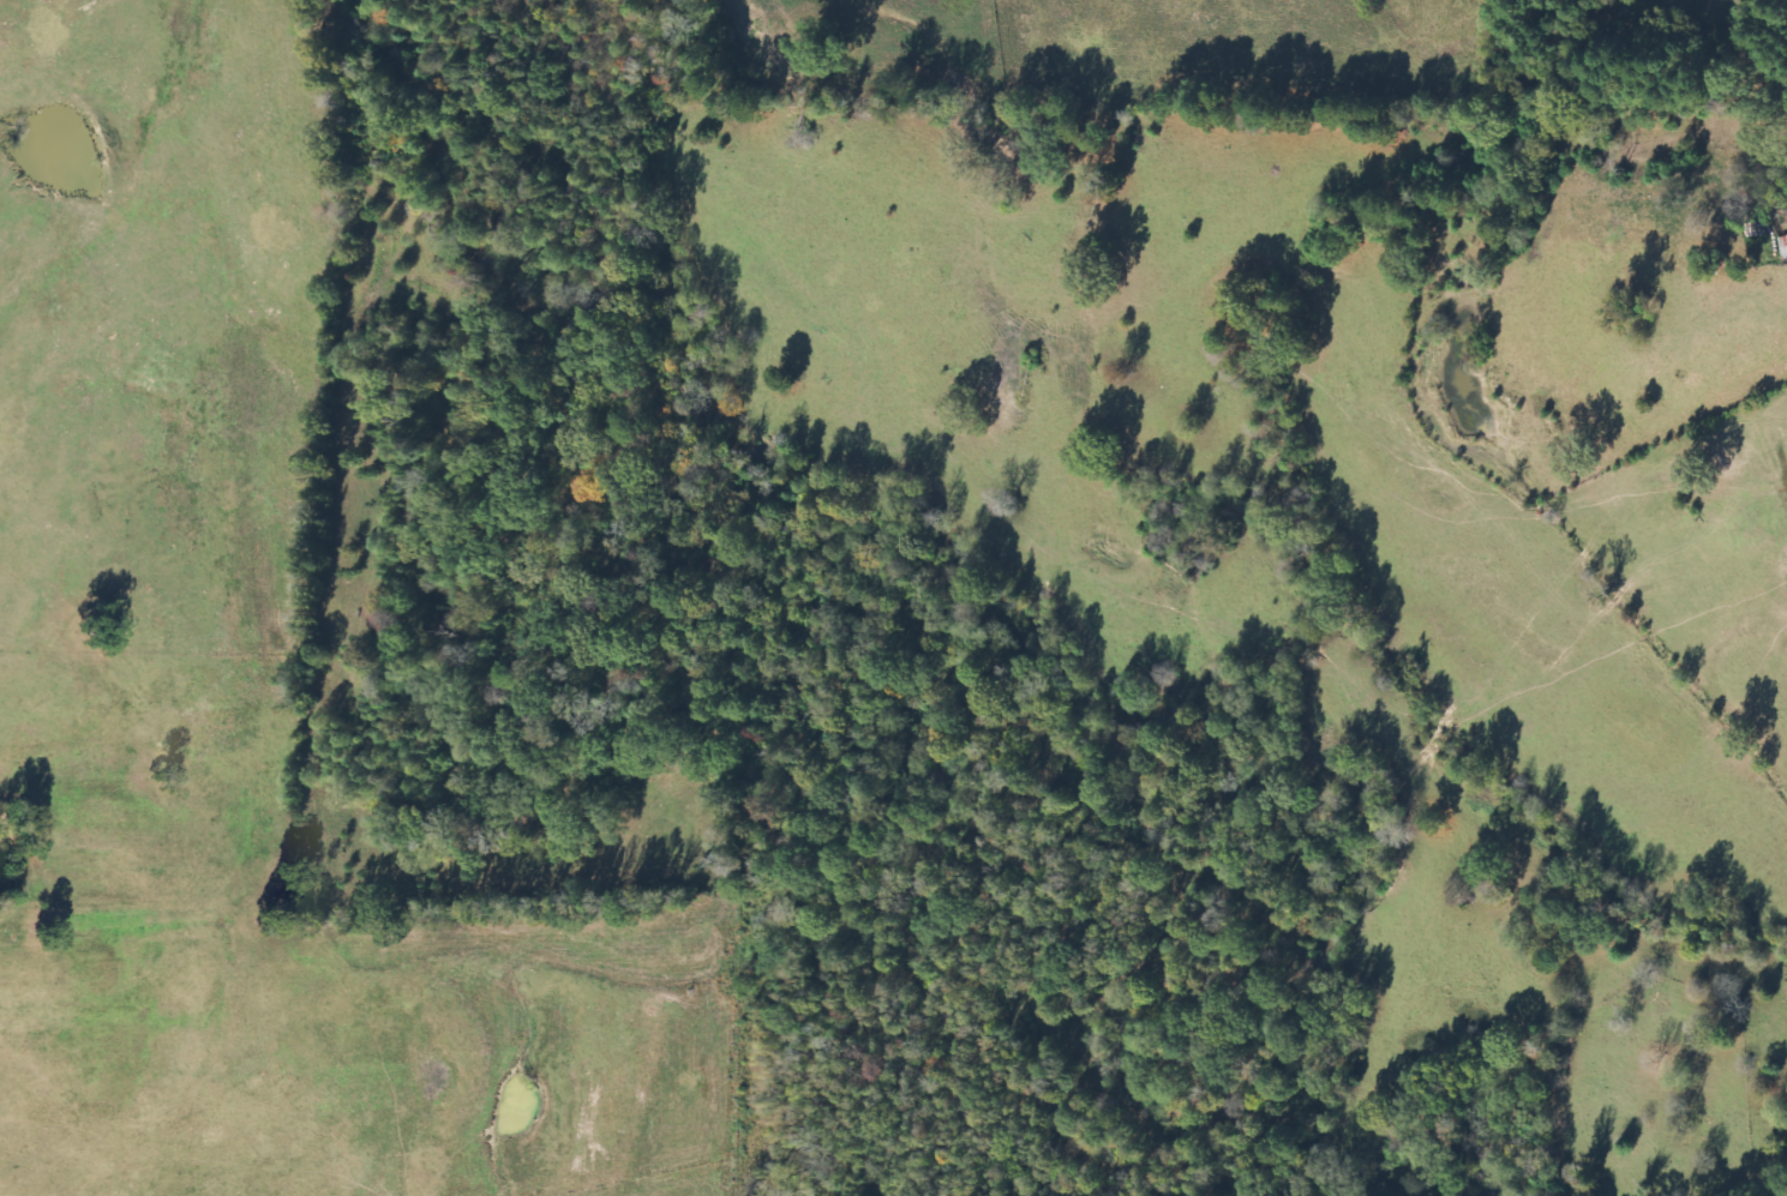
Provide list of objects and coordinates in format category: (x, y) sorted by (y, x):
building: (1785, 245)

